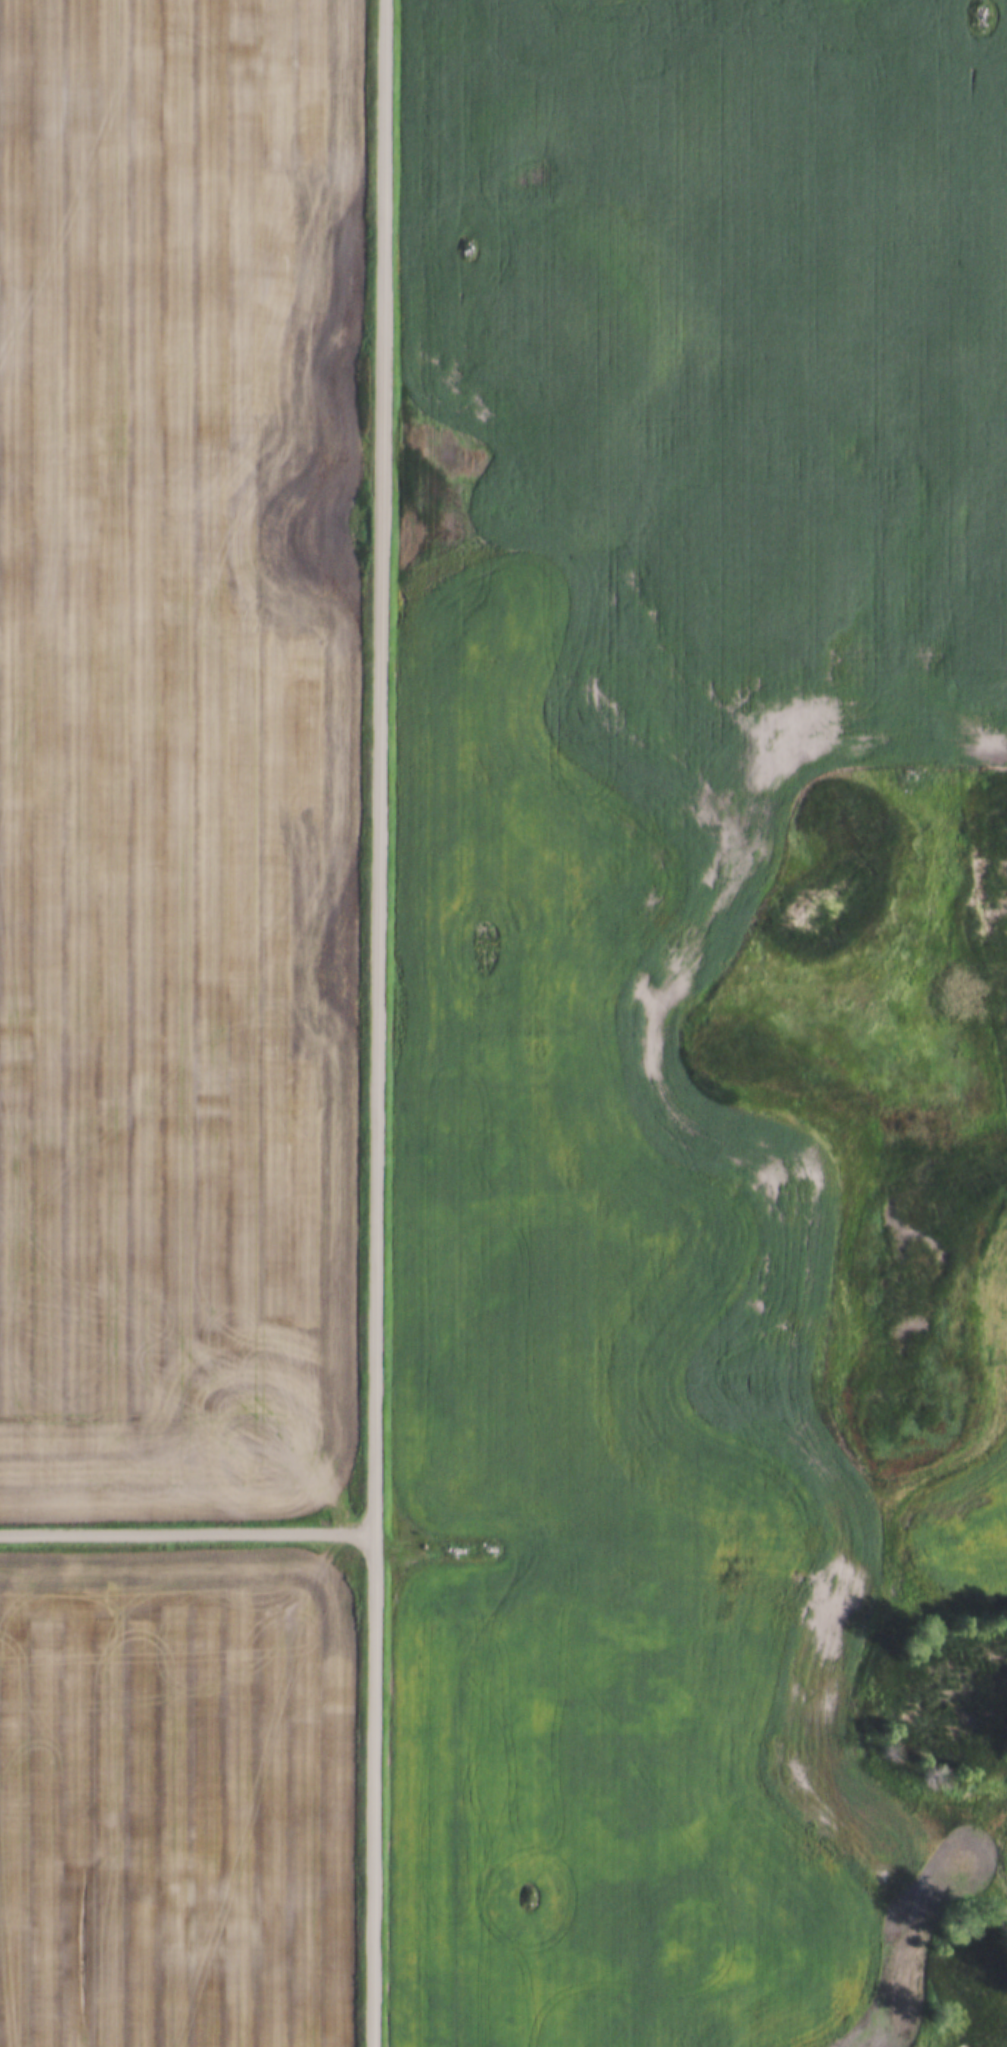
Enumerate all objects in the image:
road: (378, 1023)
road: (187, 1533)

